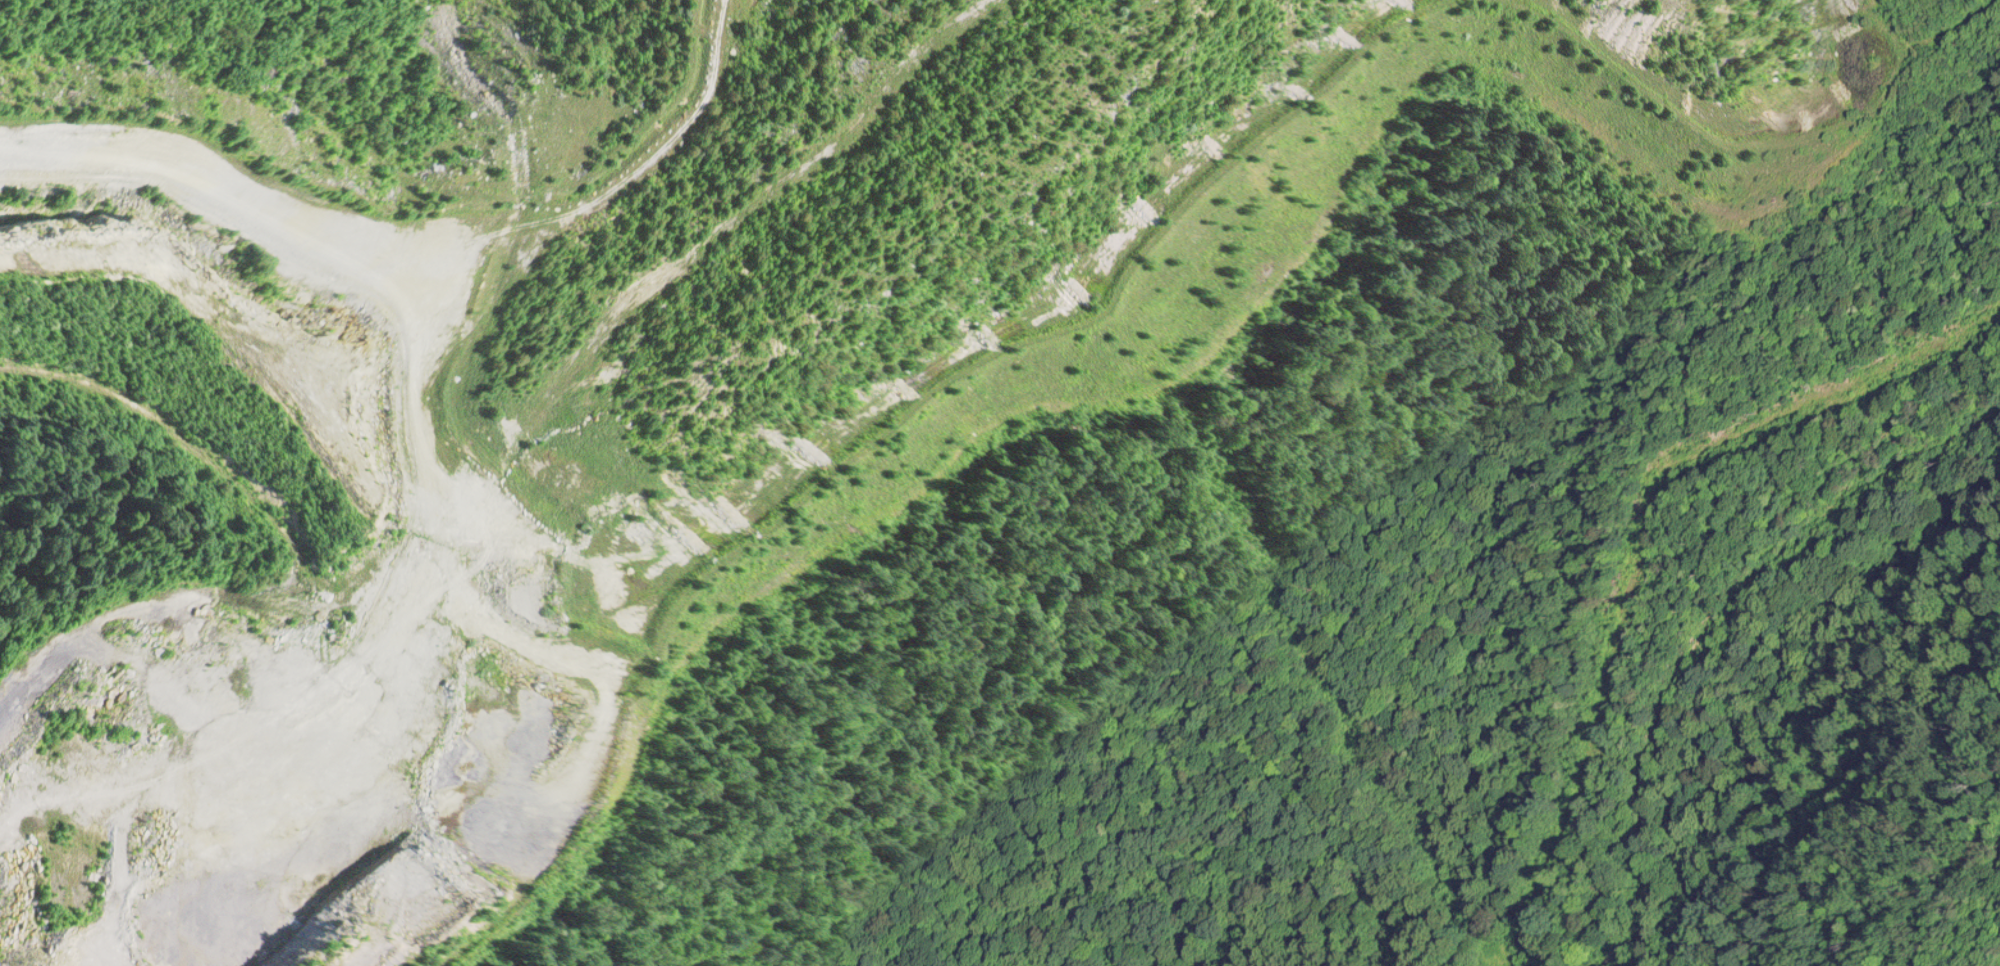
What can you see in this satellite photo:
quarry: (1000, 483)
road: (81, 485)

